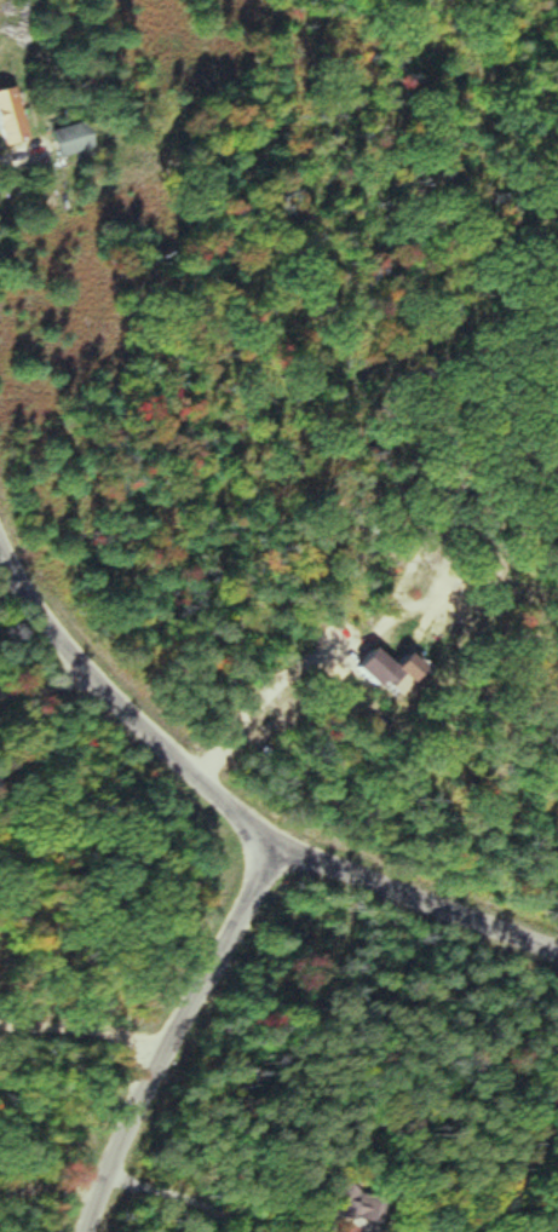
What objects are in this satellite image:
building: (6, 122)
building: (62, 140)
road: (122, 713)
road: (416, 902)
road: (172, 1034)
building: (336, 1201)

